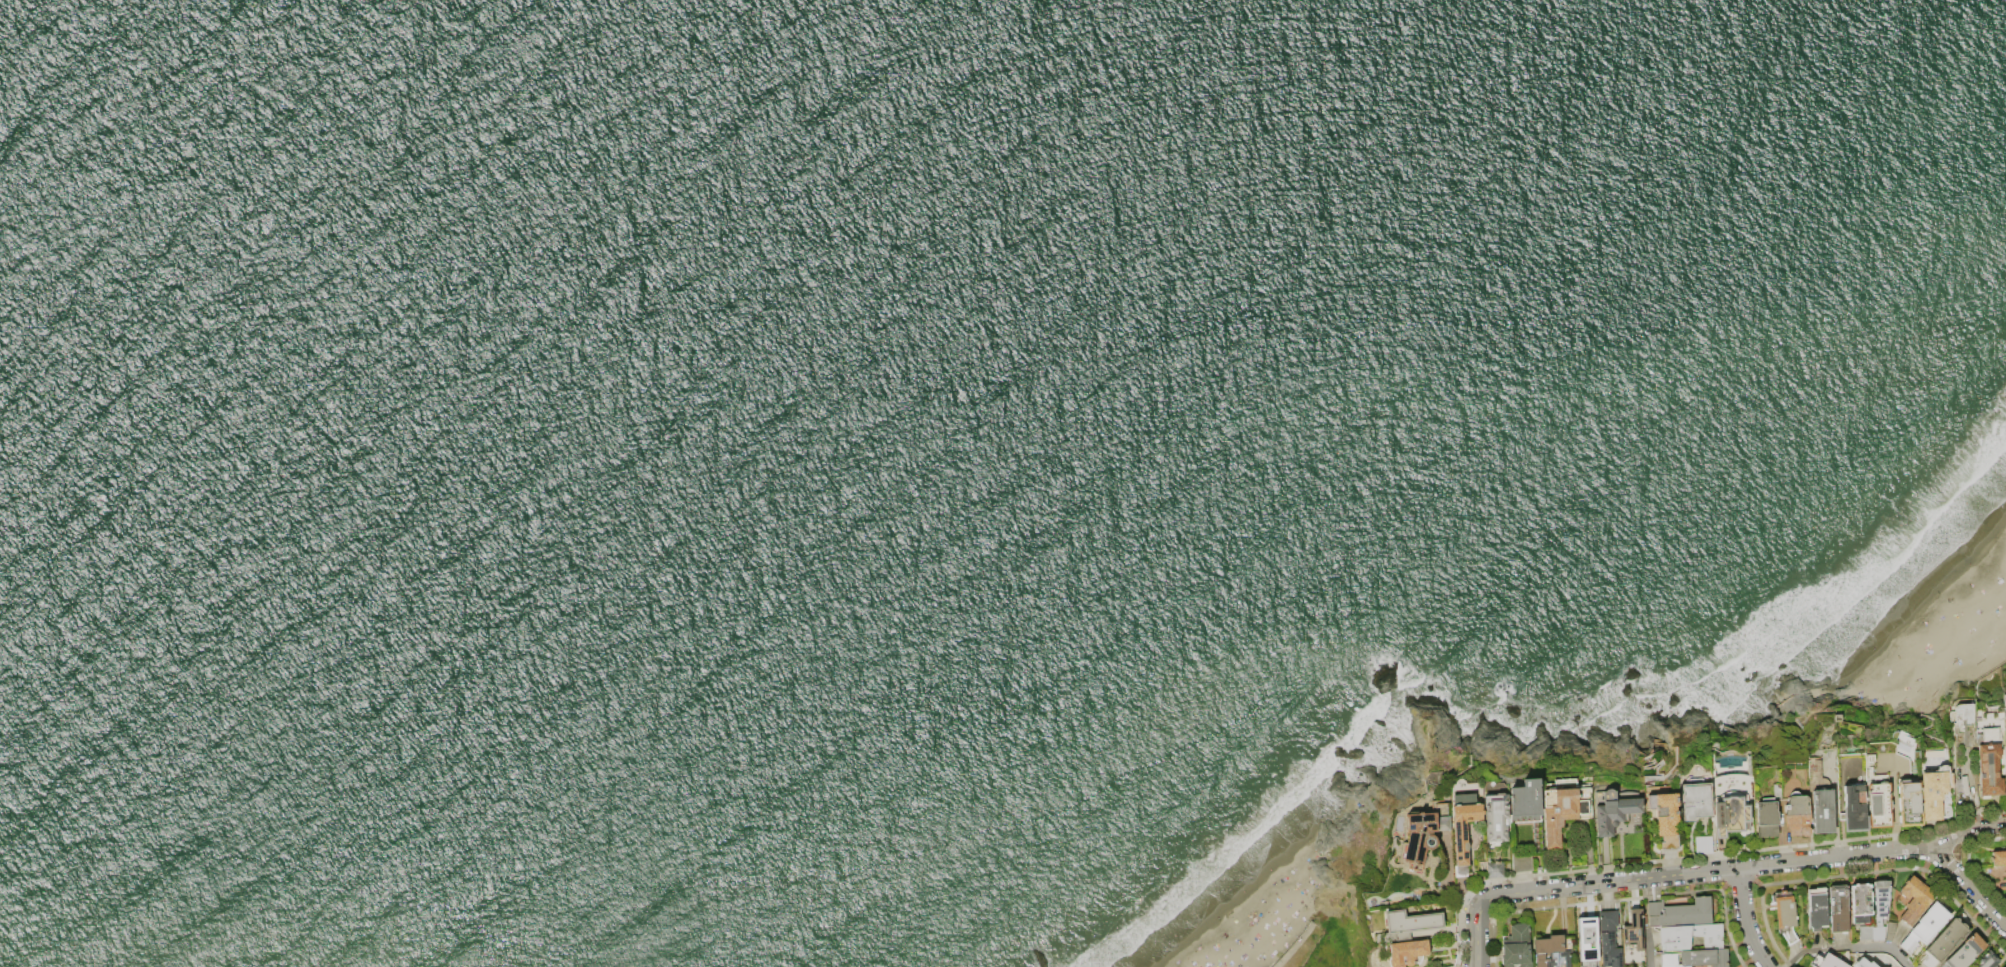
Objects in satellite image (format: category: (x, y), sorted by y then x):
building: (1963, 714)
building: (2005, 742)
building: (1989, 765)
building: (1725, 786)
building: (1935, 791)
building: (1696, 801)
building: (1909, 803)
building: (1879, 804)
building: (1528, 808)
building: (1564, 808)
building: (1854, 808)
building: (1613, 811)
building: (1822, 812)
building: (1768, 814)
building: (1797, 814)
building: (1731, 816)
building: (1496, 817)
building: (1666, 818)
building: (1464, 827)
building: (1425, 833)
building: (1704, 845)
building: (1998, 858)
building: (1523, 862)
building: (1496, 870)
road: (1713, 870)
road: (1967, 886)
building: (1915, 900)
park: (1300, 902)
building: (1861, 905)
building: (1817, 909)
building: (1839, 909)
building: (1678, 913)
building: (1877, 913)
building: (1784, 916)
road: (1744, 920)
building: (1412, 923)
building: (1926, 927)
building: (1890, 931)
building: (1633, 932)
building: (1586, 936)
building: (1608, 940)
building: (1673, 941)
building: (1944, 943)
building: (1297, 945)
building: (1516, 947)
road: (1648, 947)
road: (1847, 947)
building: (1550, 952)
building: (1966, 952)
building: (1408, 953)
building: (1695, 958)
building: (1987, 960)
building: (1825, 961)
building: (1863, 964)
building: (2005, 966)

